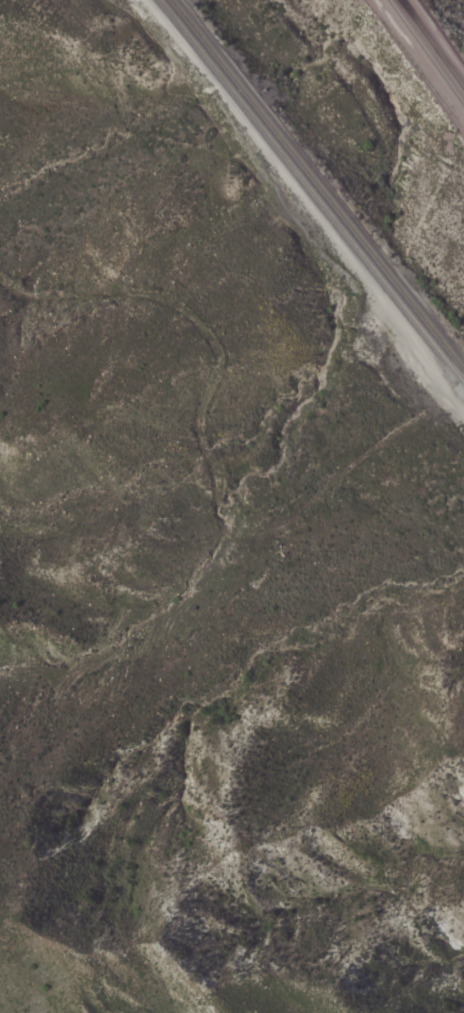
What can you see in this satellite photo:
railway: (431, 45)
railway: (425, 53)
railway: (317, 182)
railway: (311, 190)
road: (306, 203)
road: (455, 393)

